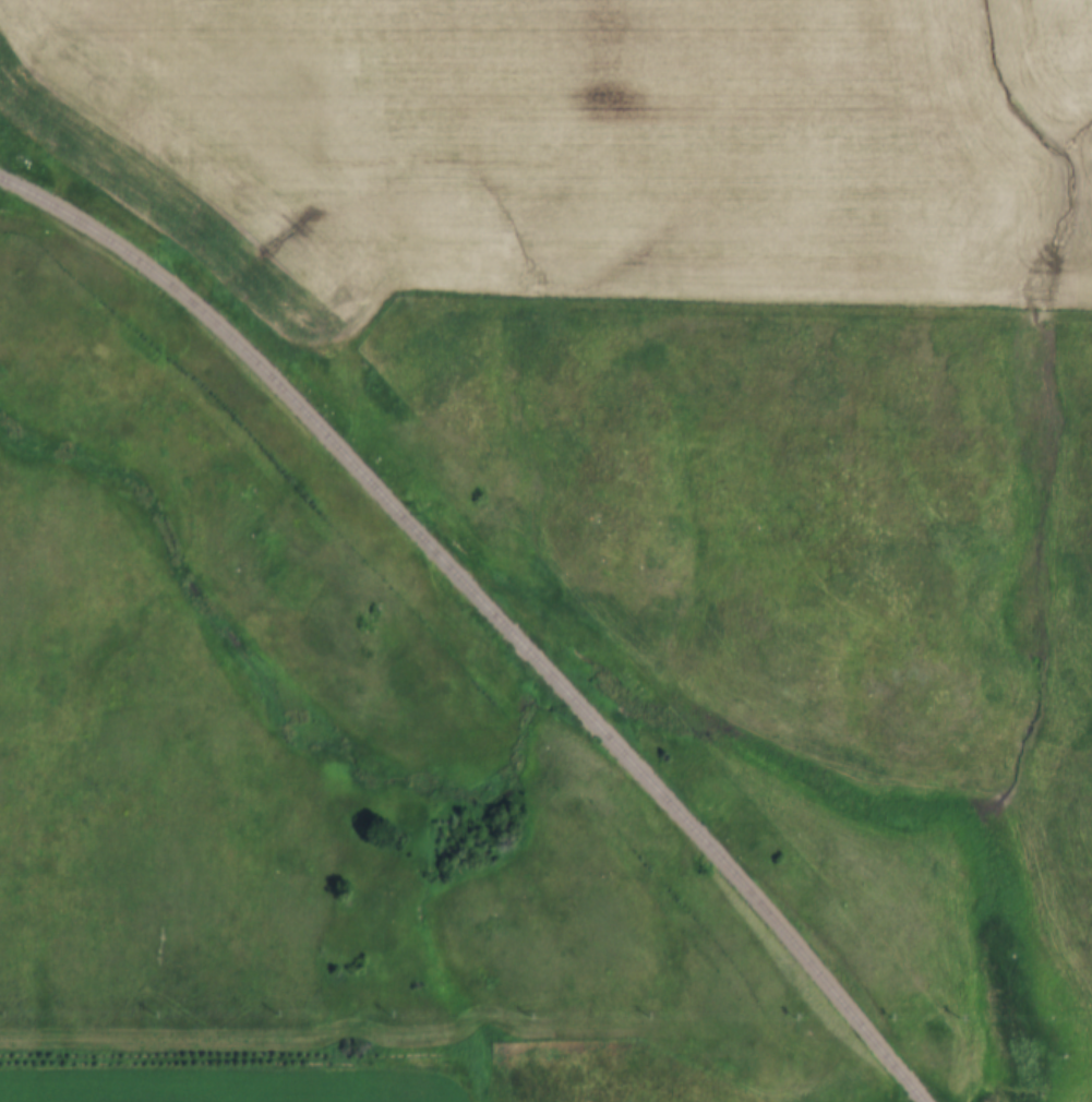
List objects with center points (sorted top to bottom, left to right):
road: (497, 311)
railway: (492, 604)
road: (240, 1040)
road: (478, 1070)

